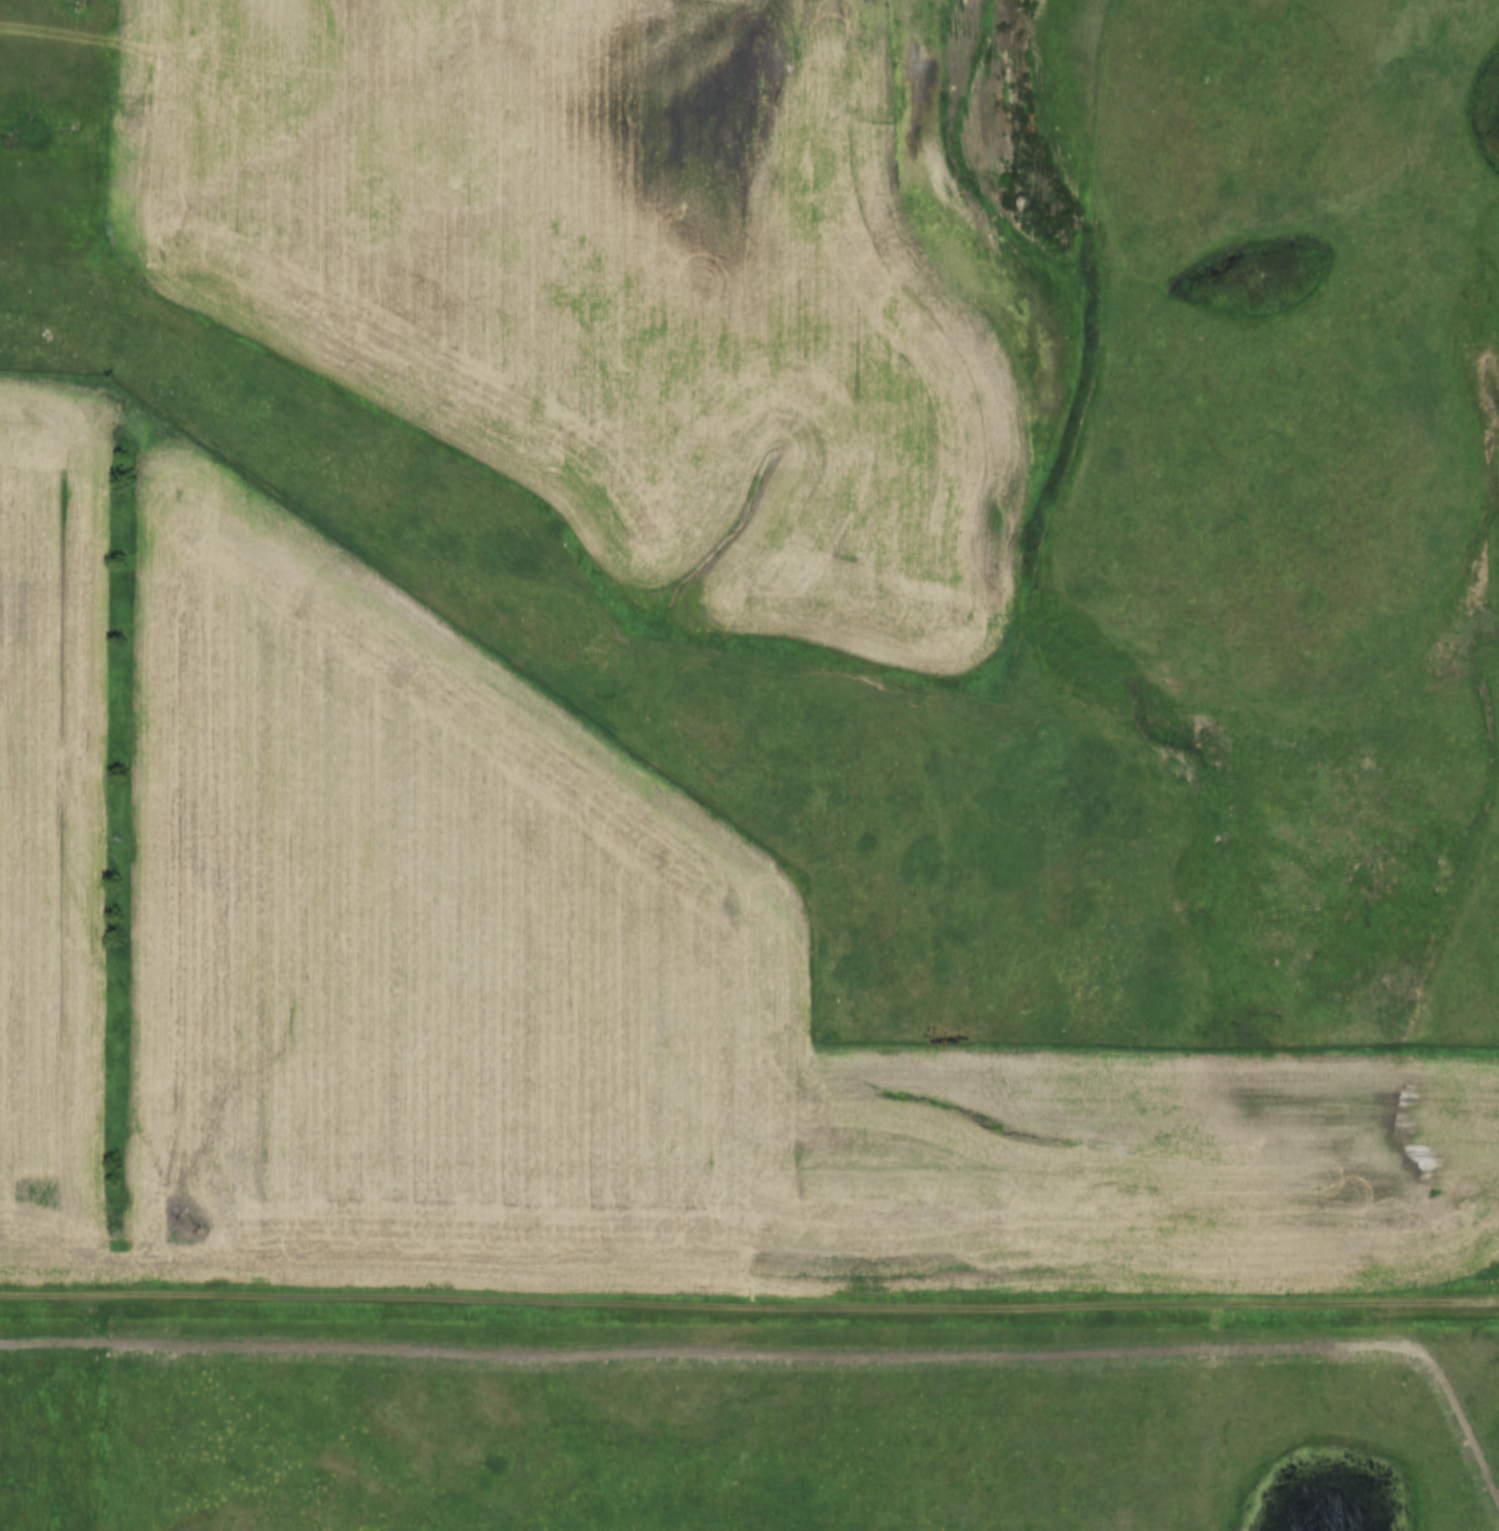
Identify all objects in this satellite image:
road: (749, 1298)

